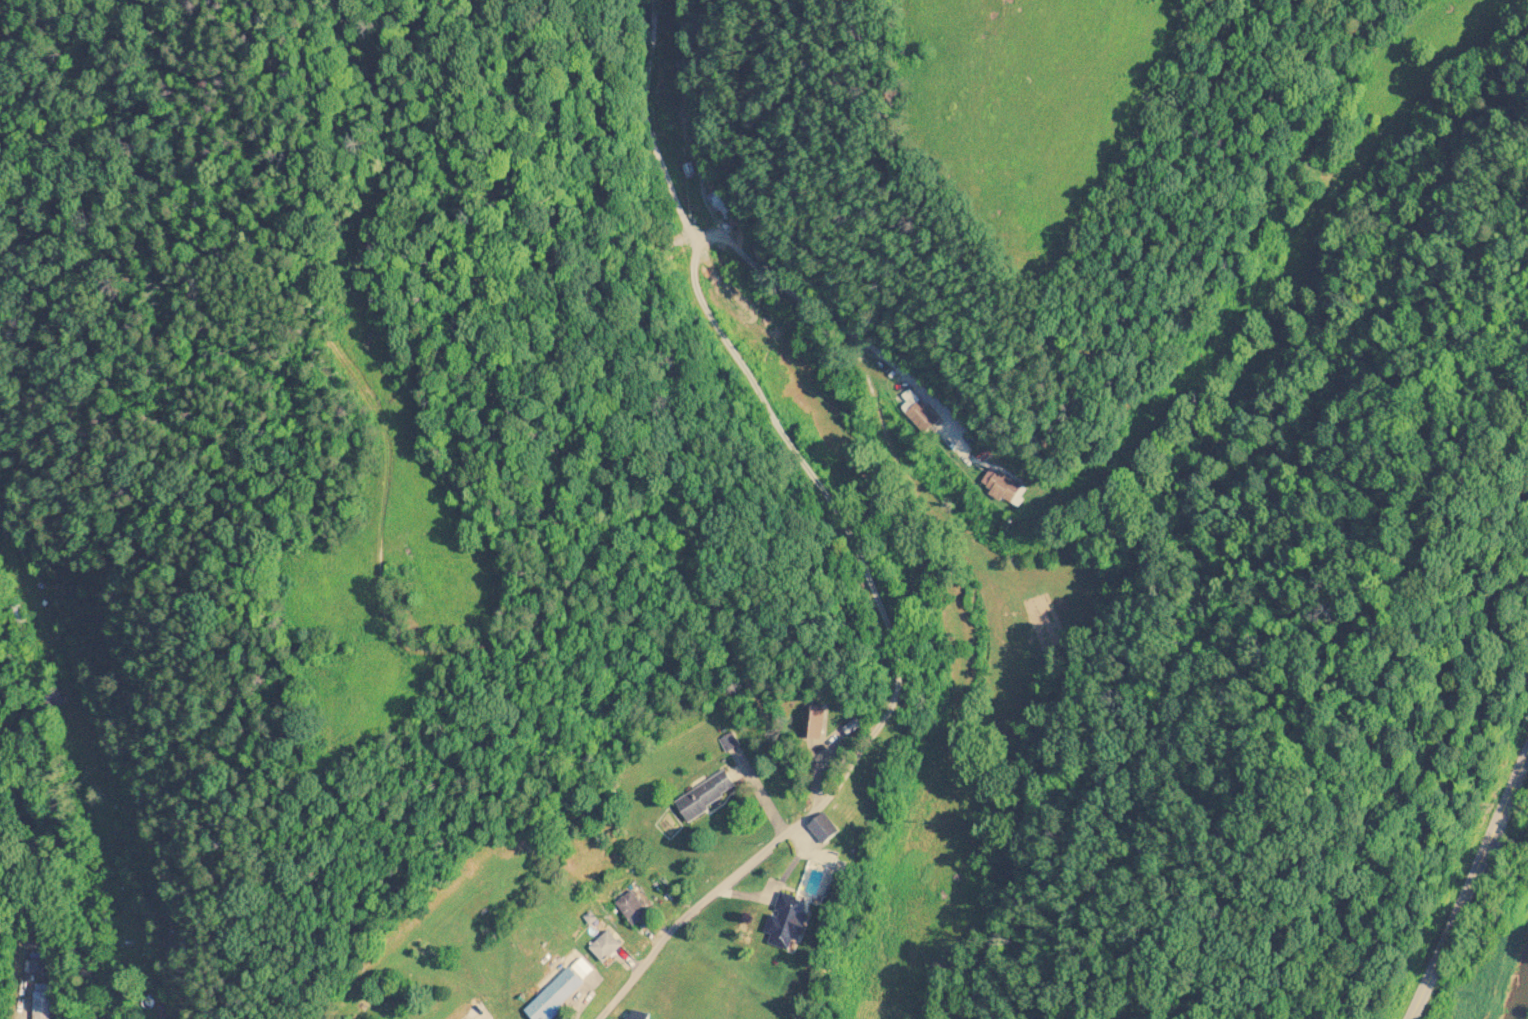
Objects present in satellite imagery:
building: (724, 205)
building: (923, 415)
building: (1006, 488)
road: (868, 666)
building: (815, 724)
building: (707, 796)
building: (827, 830)
road: (1468, 888)
building: (635, 909)
building: (788, 922)
building: (607, 947)
building: (558, 996)
river: (1520, 1000)
building: (42, 1012)
road: (475, 1017)
building: (637, 1017)

